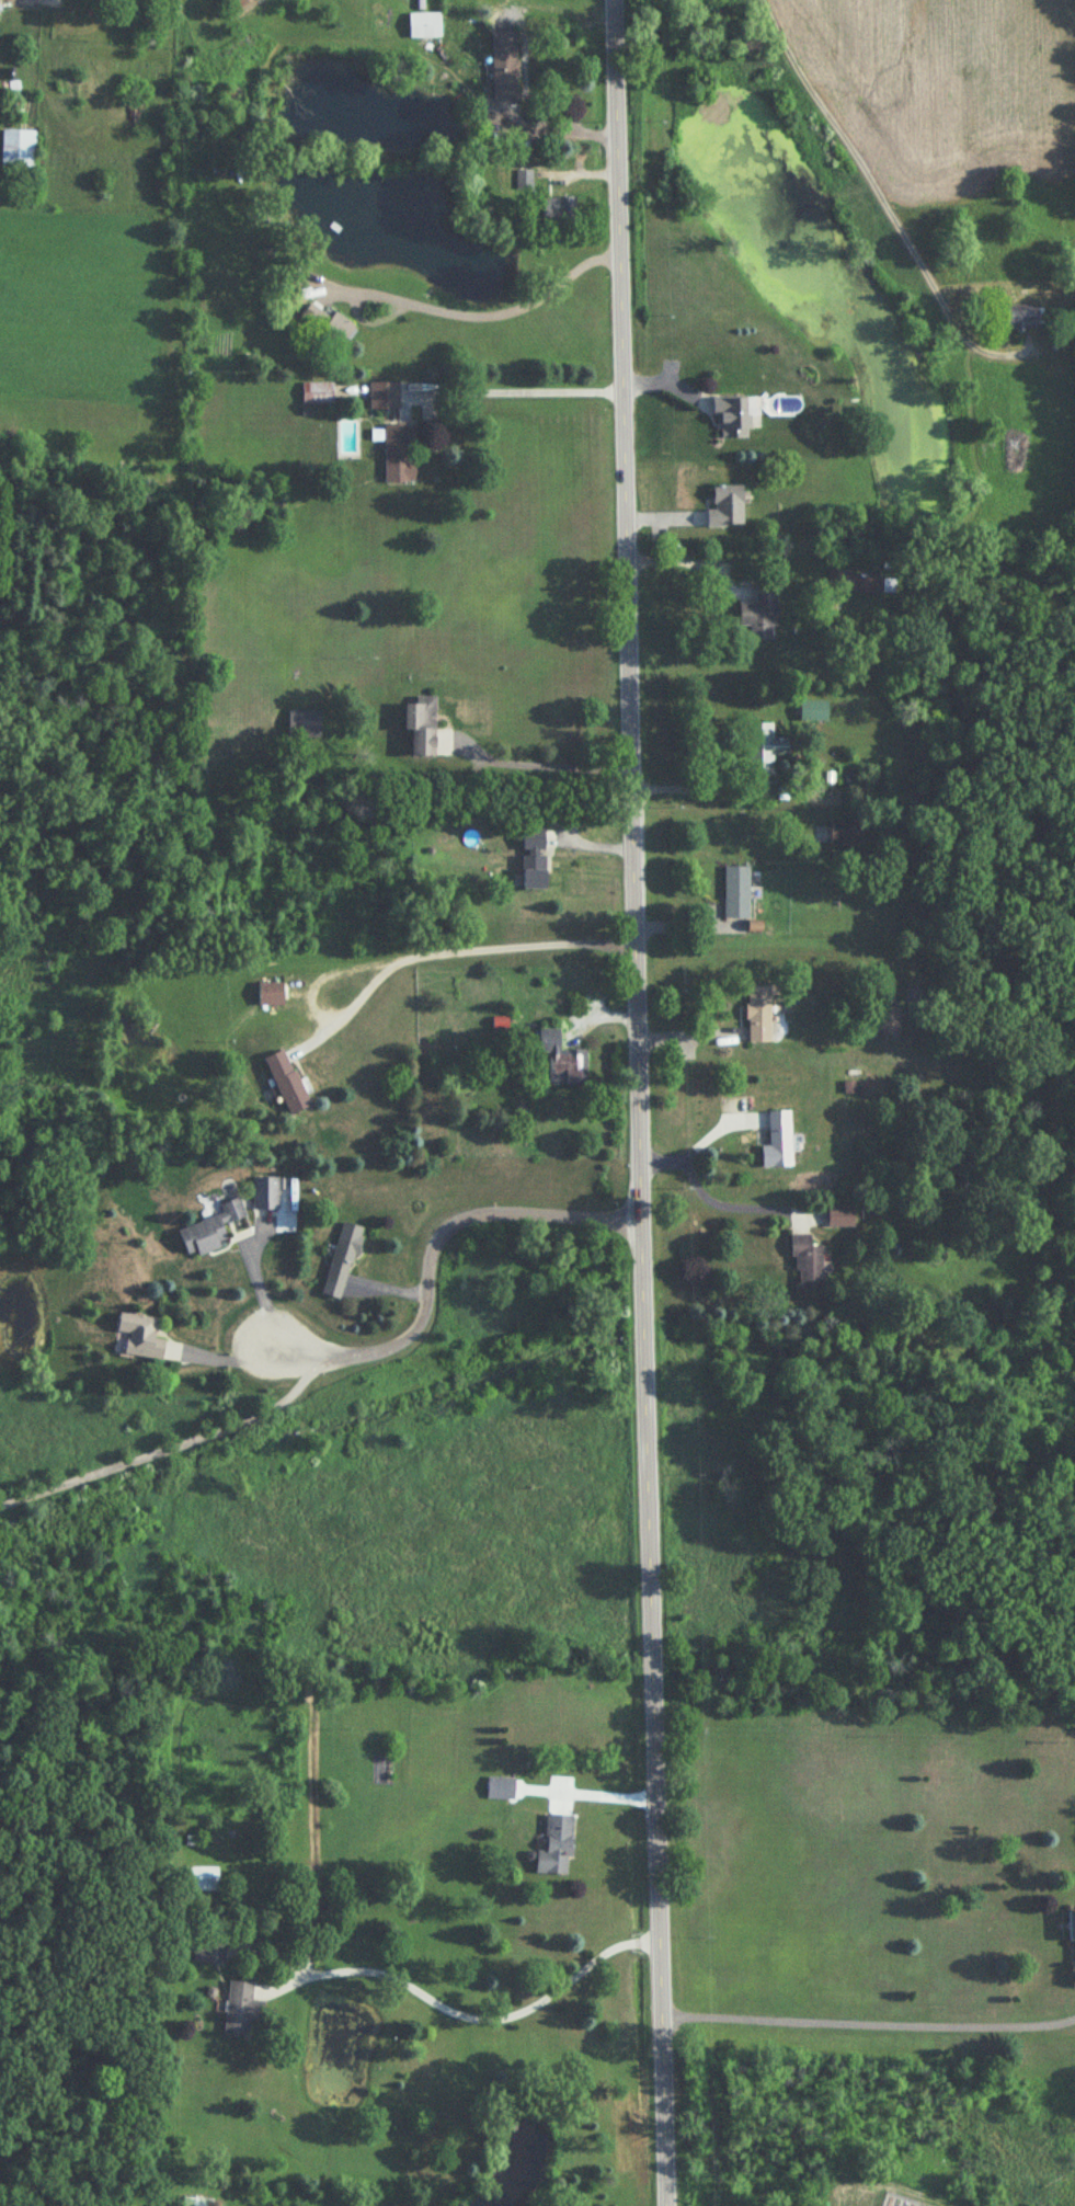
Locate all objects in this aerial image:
building: (237, 3)
building: (423, 26)
building: (503, 67)
building: (18, 153)
building: (523, 182)
road: (885, 202)
building: (557, 209)
road: (472, 317)
building: (1017, 319)
building: (327, 324)
road: (512, 391)
building: (317, 395)
building: (384, 397)
building: (731, 420)
building: (398, 455)
building: (725, 508)
building: (858, 583)
building: (759, 616)
building: (305, 727)
building: (422, 728)
building: (764, 752)
road: (538, 762)
building: (845, 834)
building: (534, 860)
building: (736, 894)
road: (459, 949)
building: (271, 995)
building: (757, 1016)
building: (782, 1025)
building: (888, 1026)
building: (562, 1064)
building: (287, 1084)
road: (634, 1102)
building: (777, 1141)
building: (265, 1196)
road: (705, 1197)
building: (840, 1216)
building: (210, 1231)
road: (430, 1251)
building: (342, 1262)
building: (807, 1265)
road: (263, 1290)
building: (138, 1338)
road: (186, 1444)
building: (501, 1790)
road: (588, 1795)
building: (557, 1848)
building: (202, 1881)
building: (1072, 1928)
building: (209, 1952)
building: (241, 2011)
road: (467, 2011)
road: (865, 2016)
building: (196, 2202)

